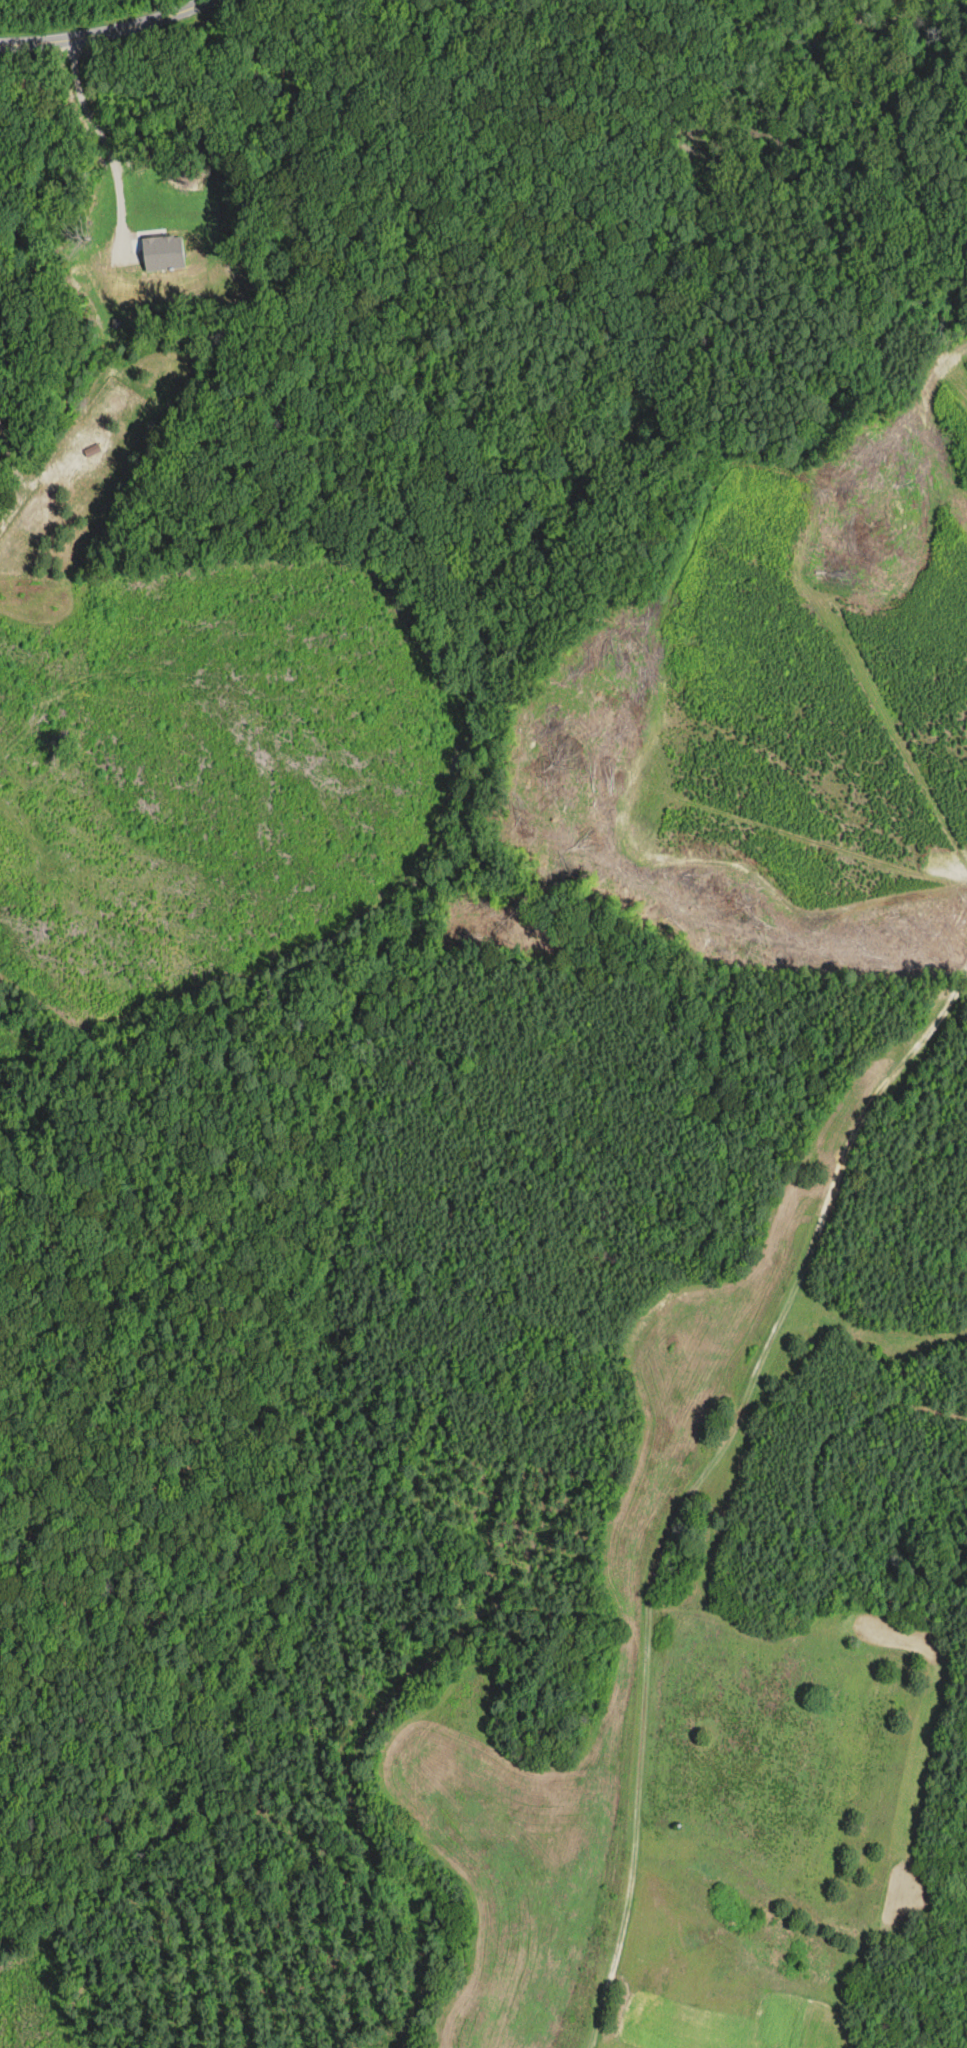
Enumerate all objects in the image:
road: (104, 31)
road: (100, 134)
road: (694, 1481)

